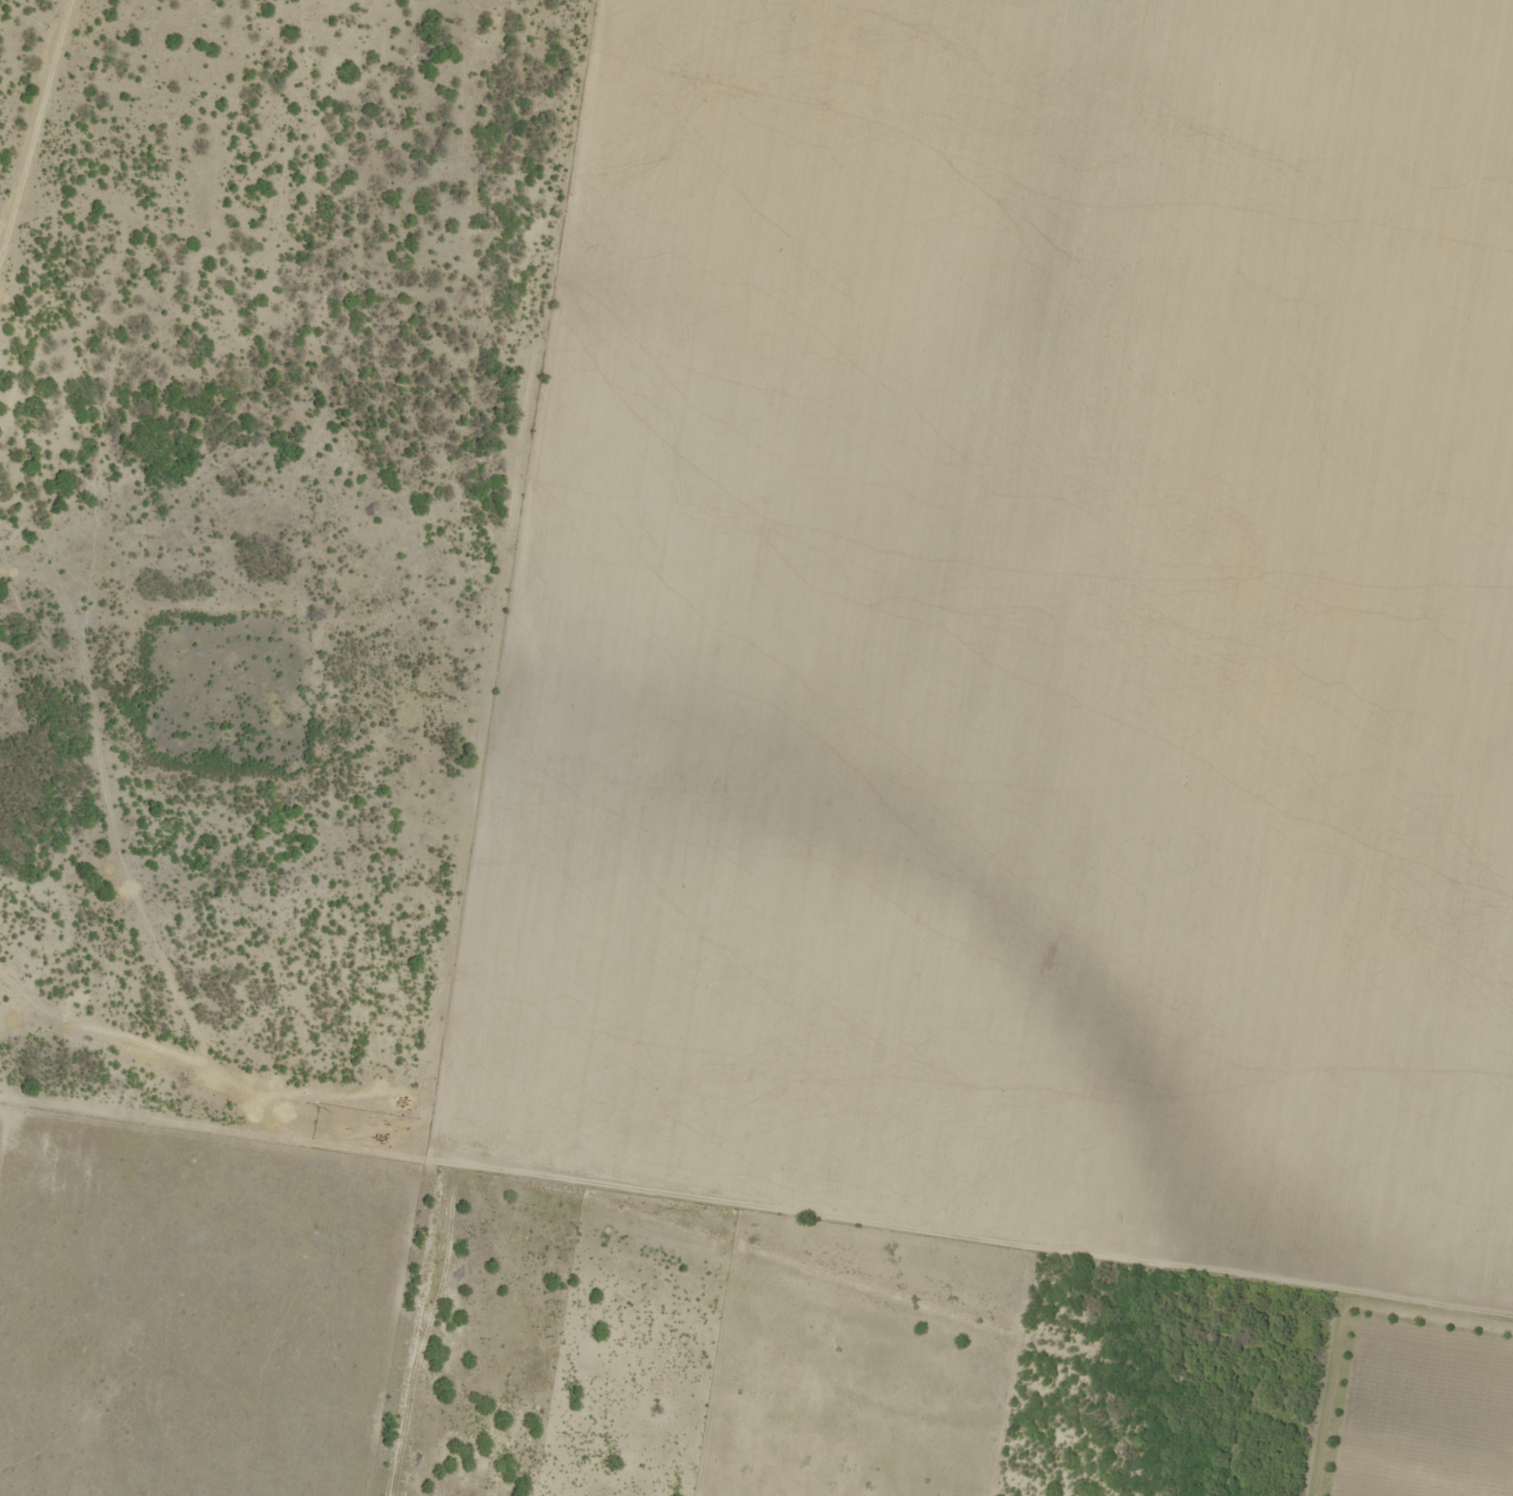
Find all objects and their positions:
road: (386, 36)
road: (743, 1247)

